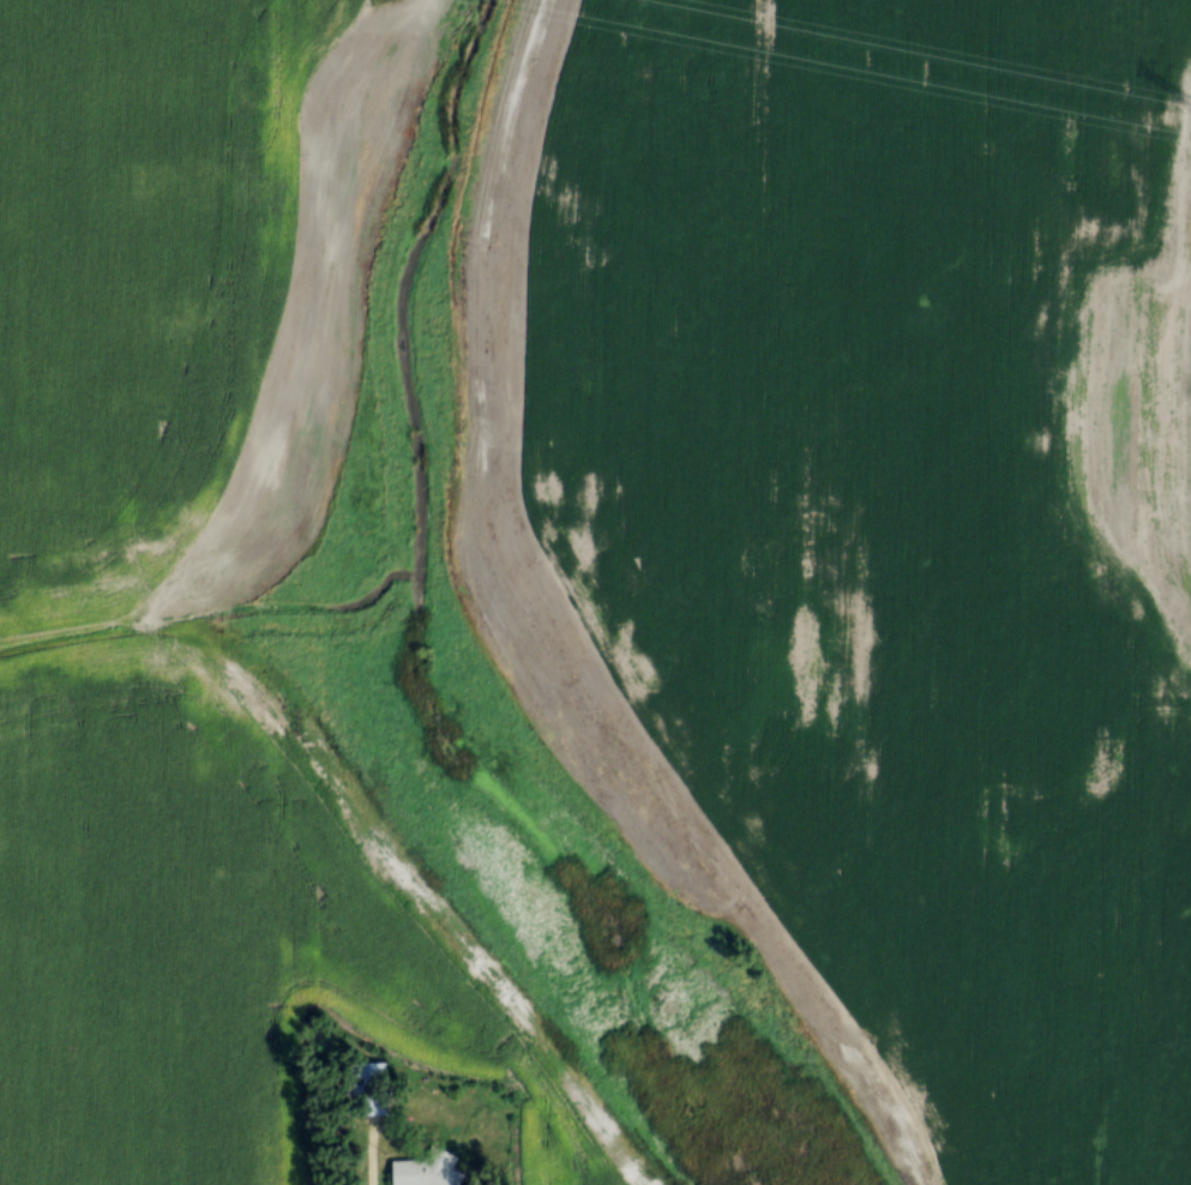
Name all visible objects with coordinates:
building: (366, 1090)
building: (421, 1171)

